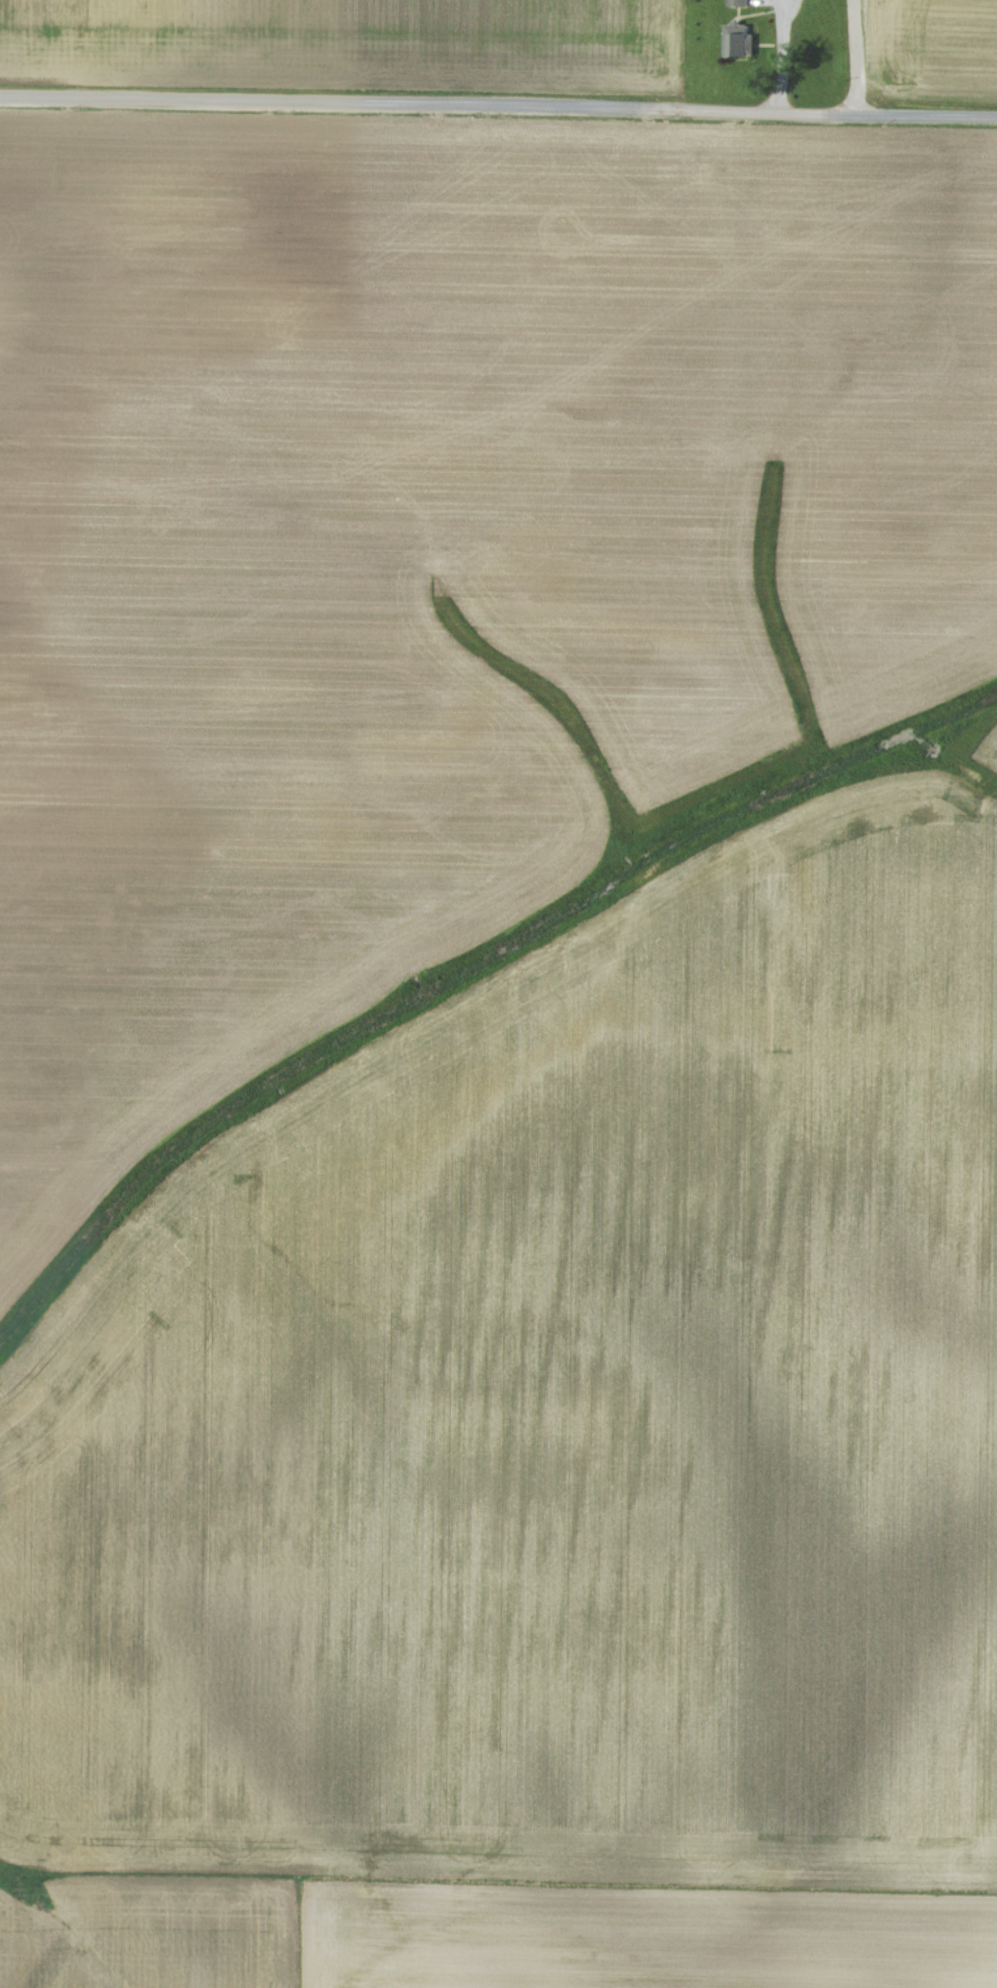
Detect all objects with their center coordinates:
building: (740, 38)
road: (784, 56)
road: (856, 57)
road: (498, 107)

